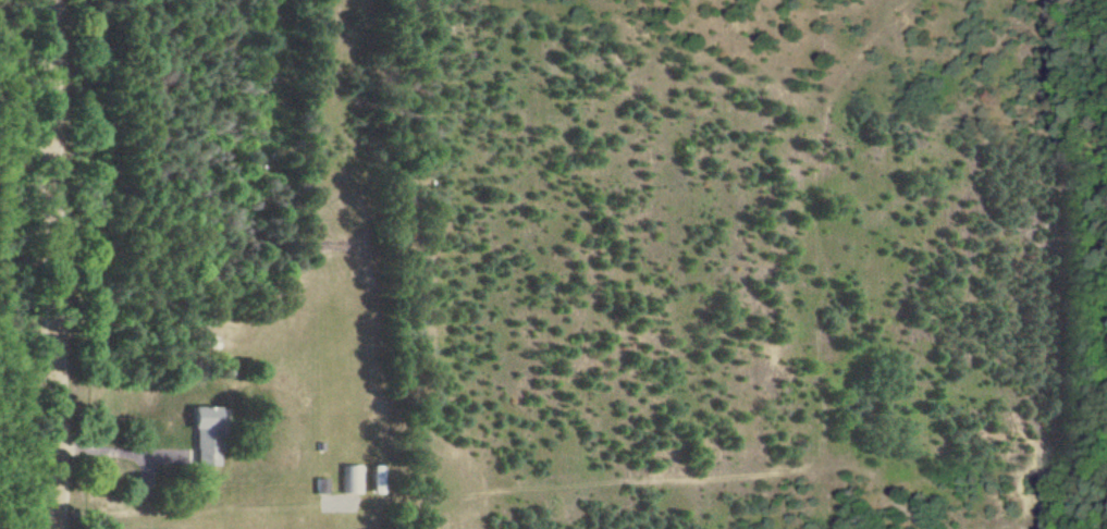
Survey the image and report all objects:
road: (57, 263)
building: (202, 435)
road: (122, 453)
building: (350, 479)
building: (376, 480)
road: (132, 515)

